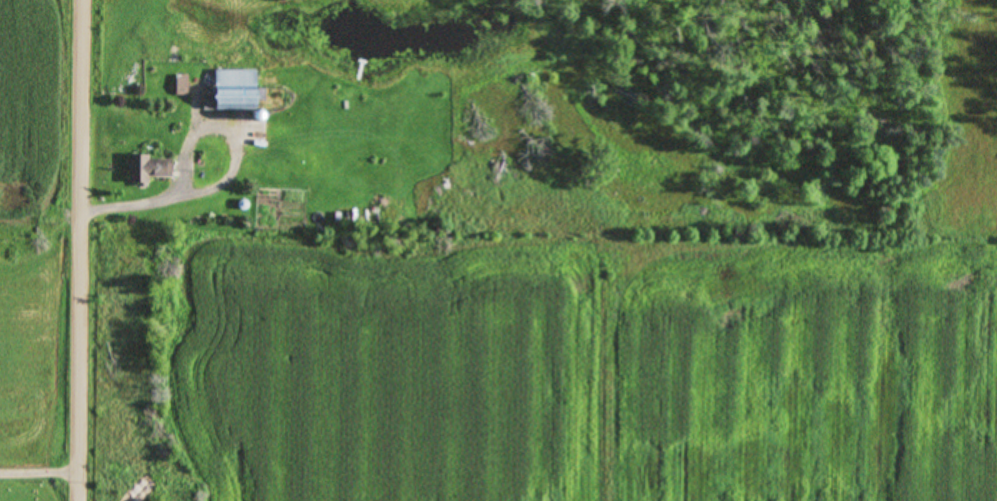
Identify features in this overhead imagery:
building: (181, 86)
building: (230, 91)
building: (147, 170)
road: (97, 250)
road: (46, 471)

